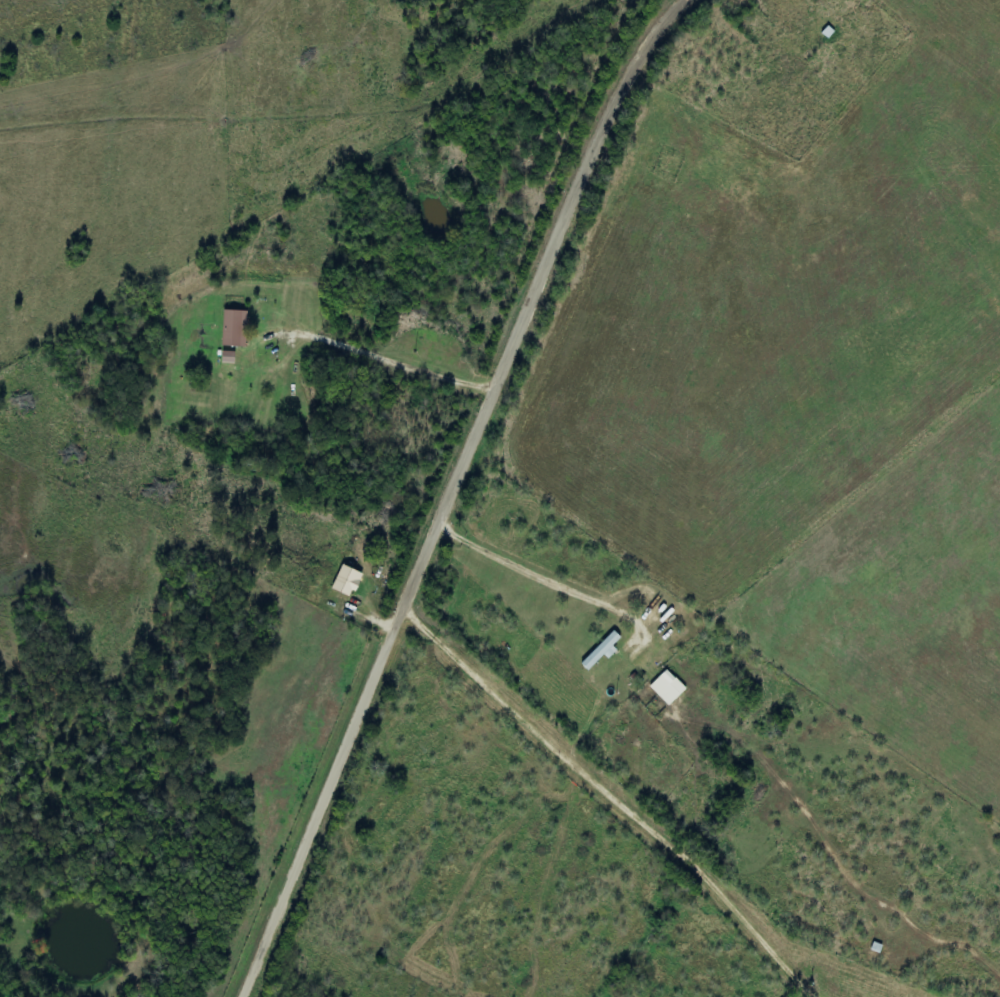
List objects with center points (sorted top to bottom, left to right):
building: (236, 328)
building: (229, 357)
road: (458, 491)
building: (348, 581)
building: (603, 651)
building: (669, 688)
road: (637, 810)

